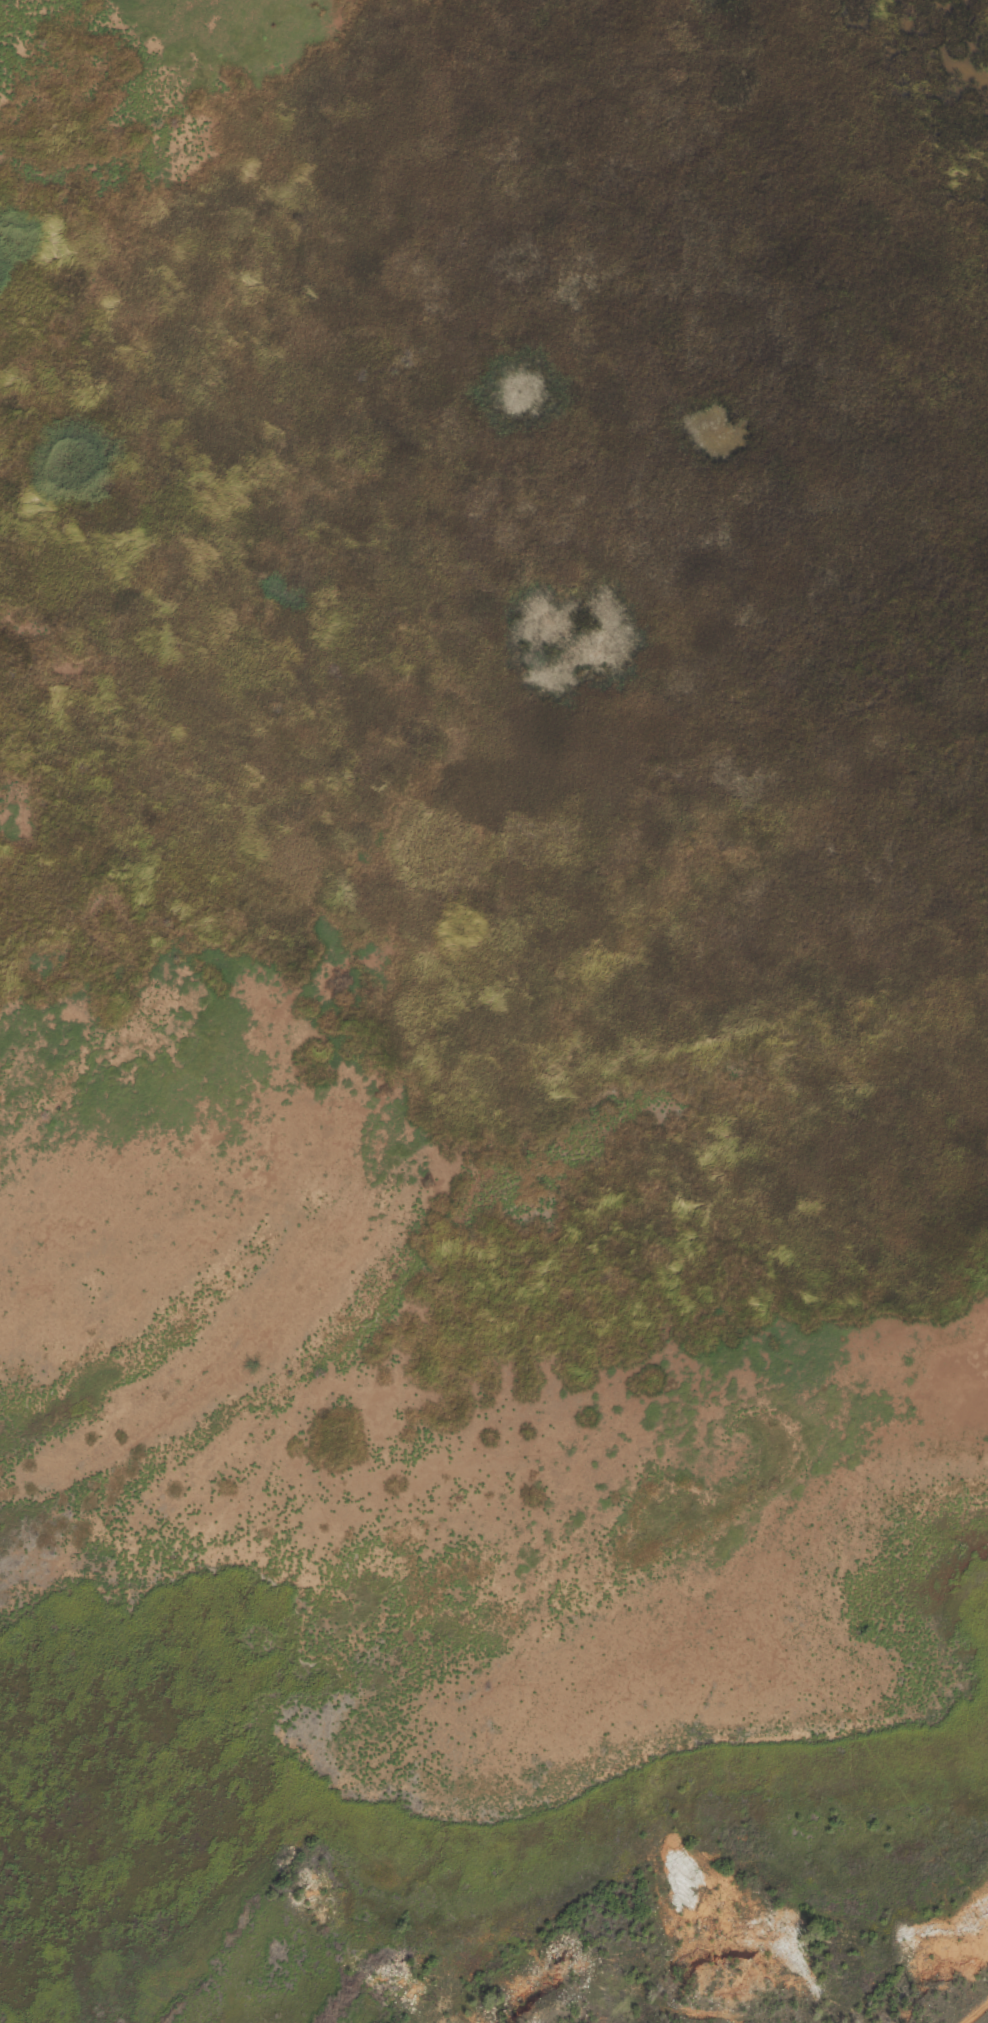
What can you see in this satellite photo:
quarry: (742, 1956)
road: (977, 2013)
road: (720, 2018)

